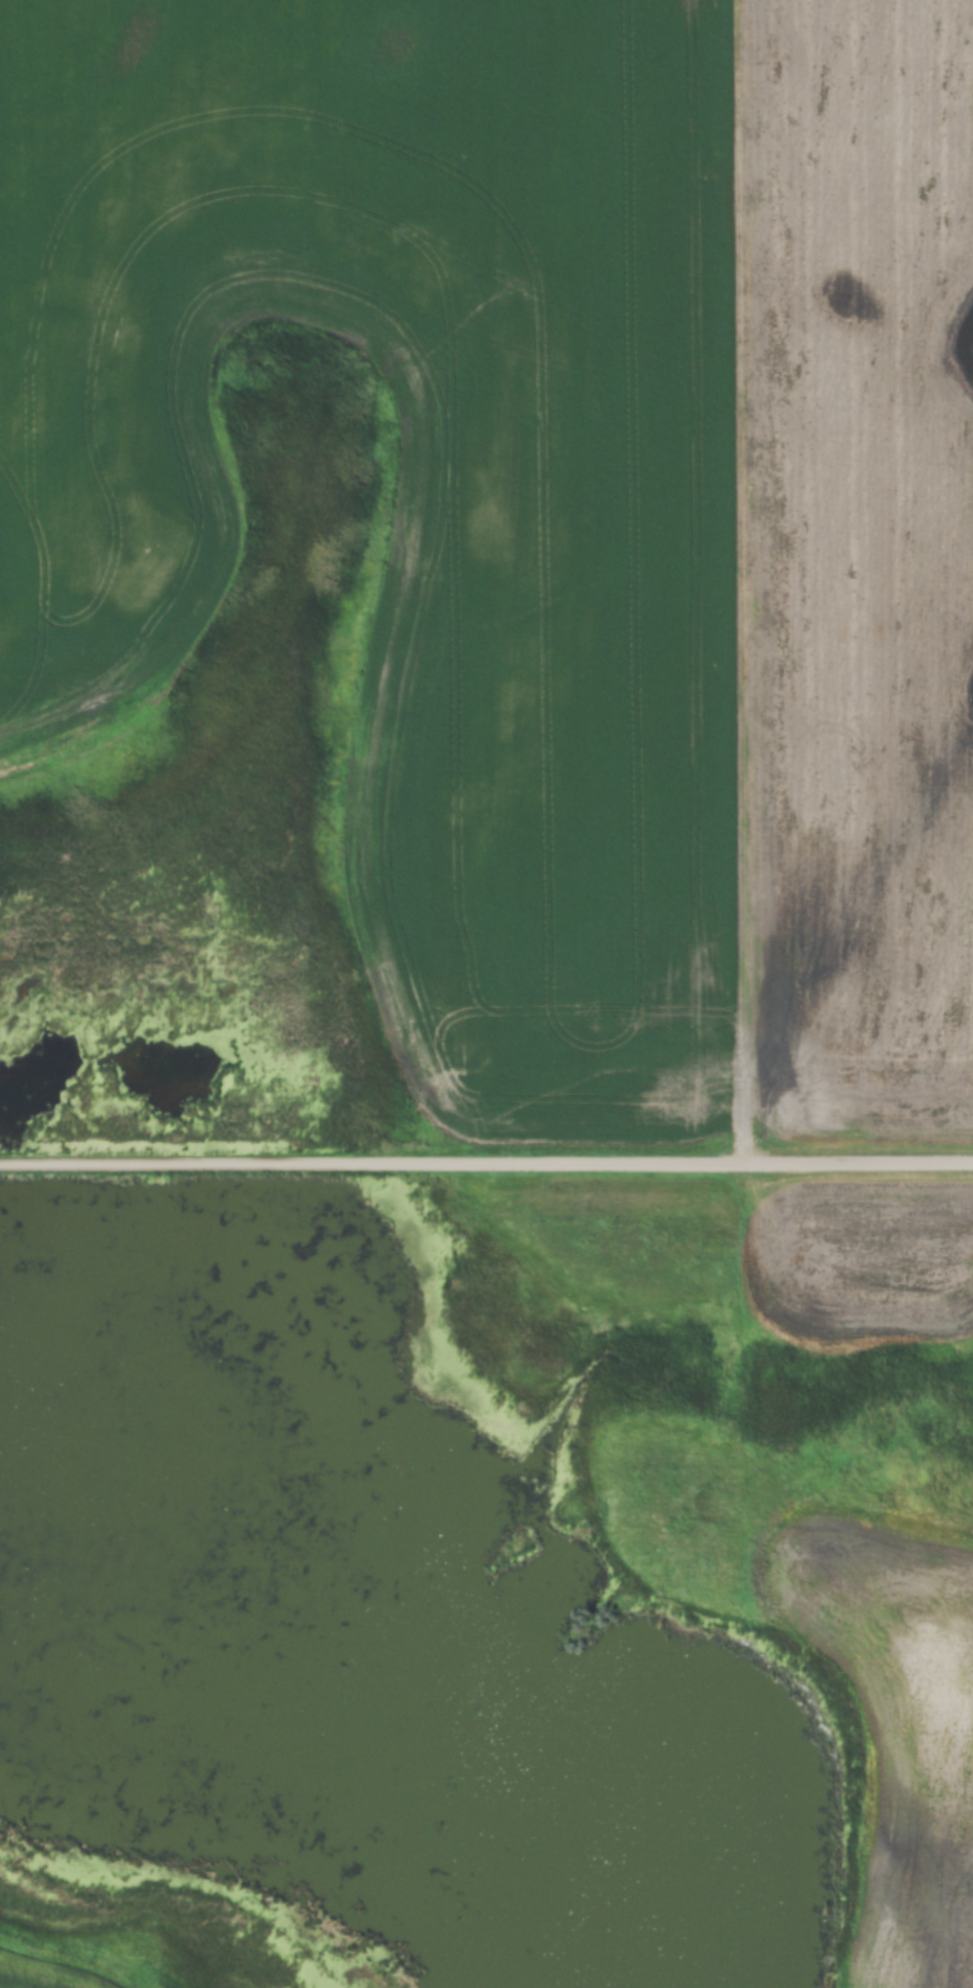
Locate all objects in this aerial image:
road: (740, 584)
road: (486, 1167)

